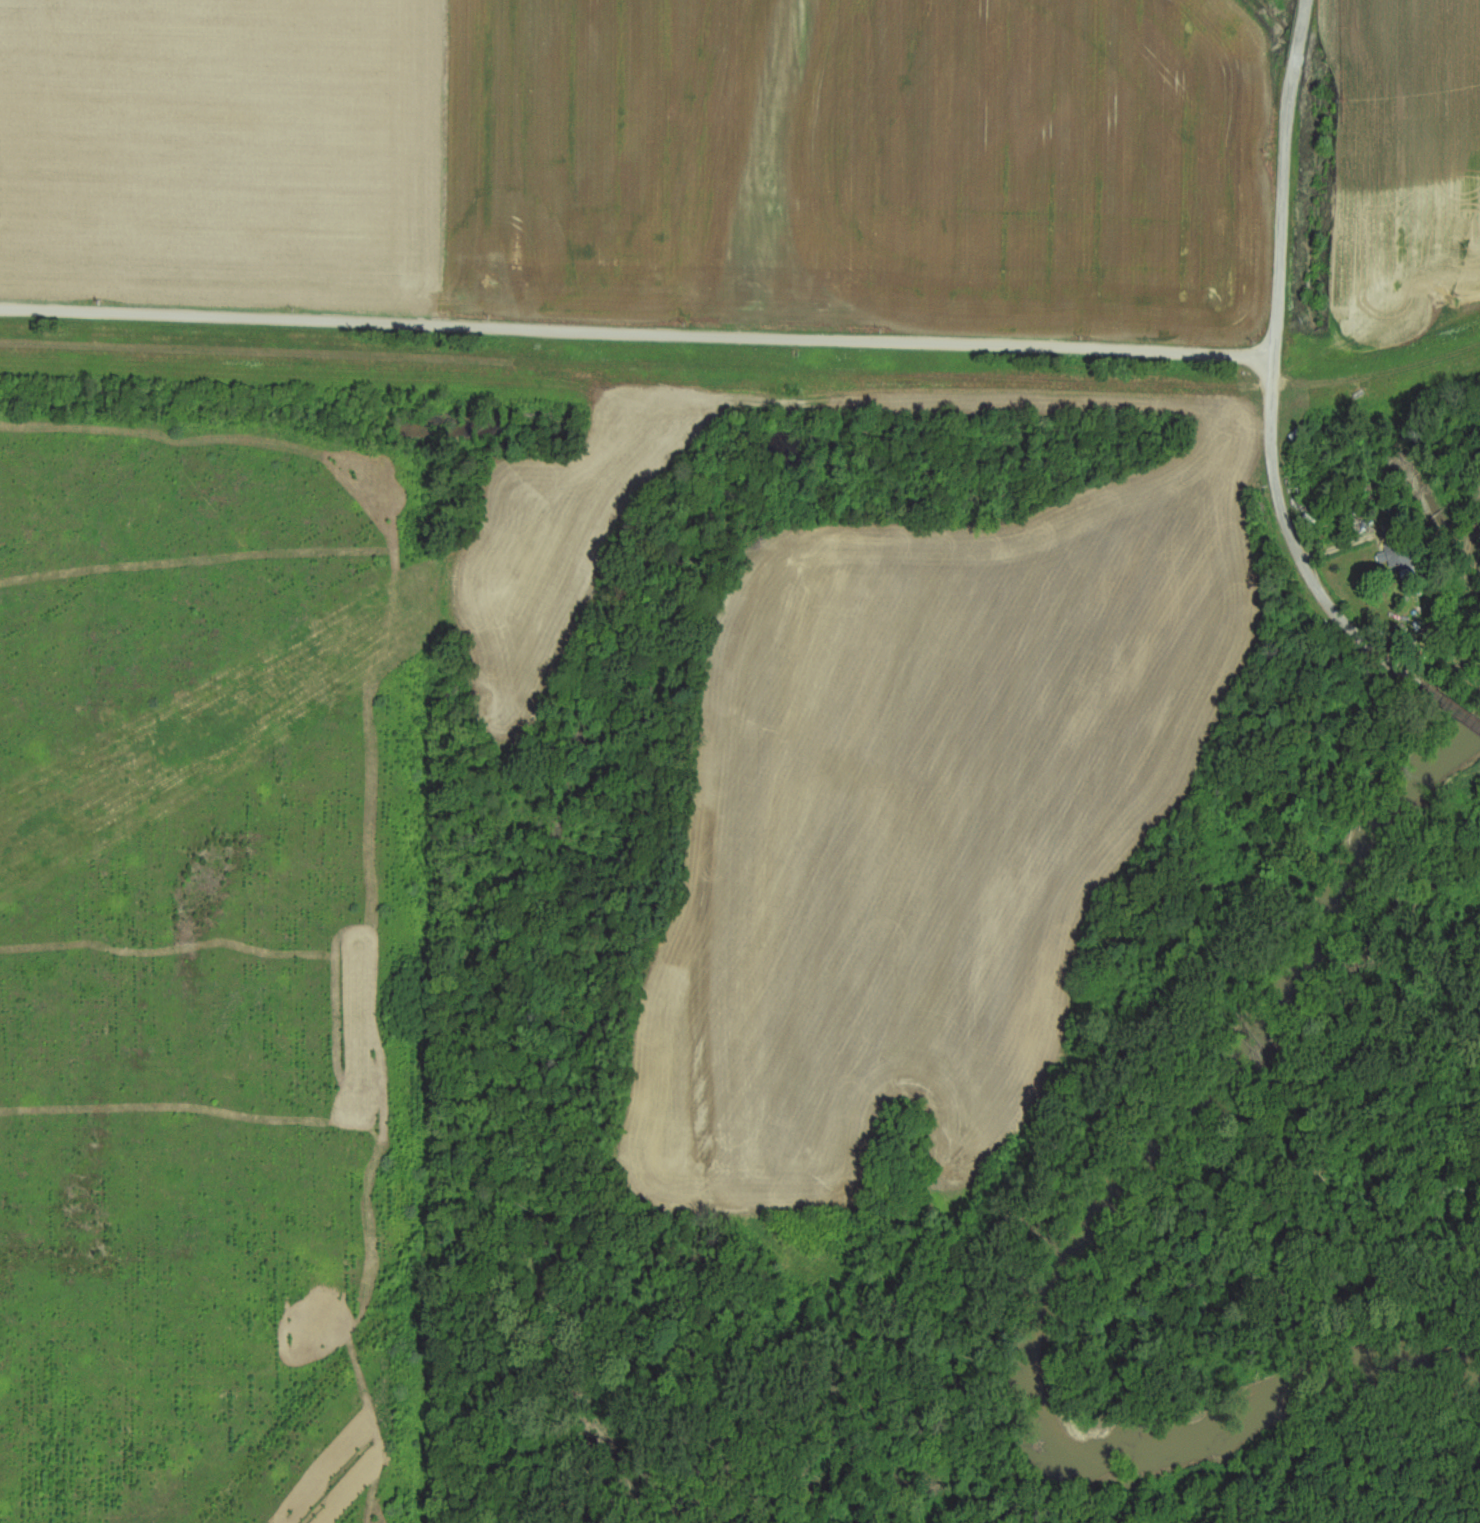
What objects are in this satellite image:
road: (1282, 180)
road: (636, 335)
building: (1394, 556)
road: (1299, 558)
road: (1460, 715)
river: (1073, 1242)

